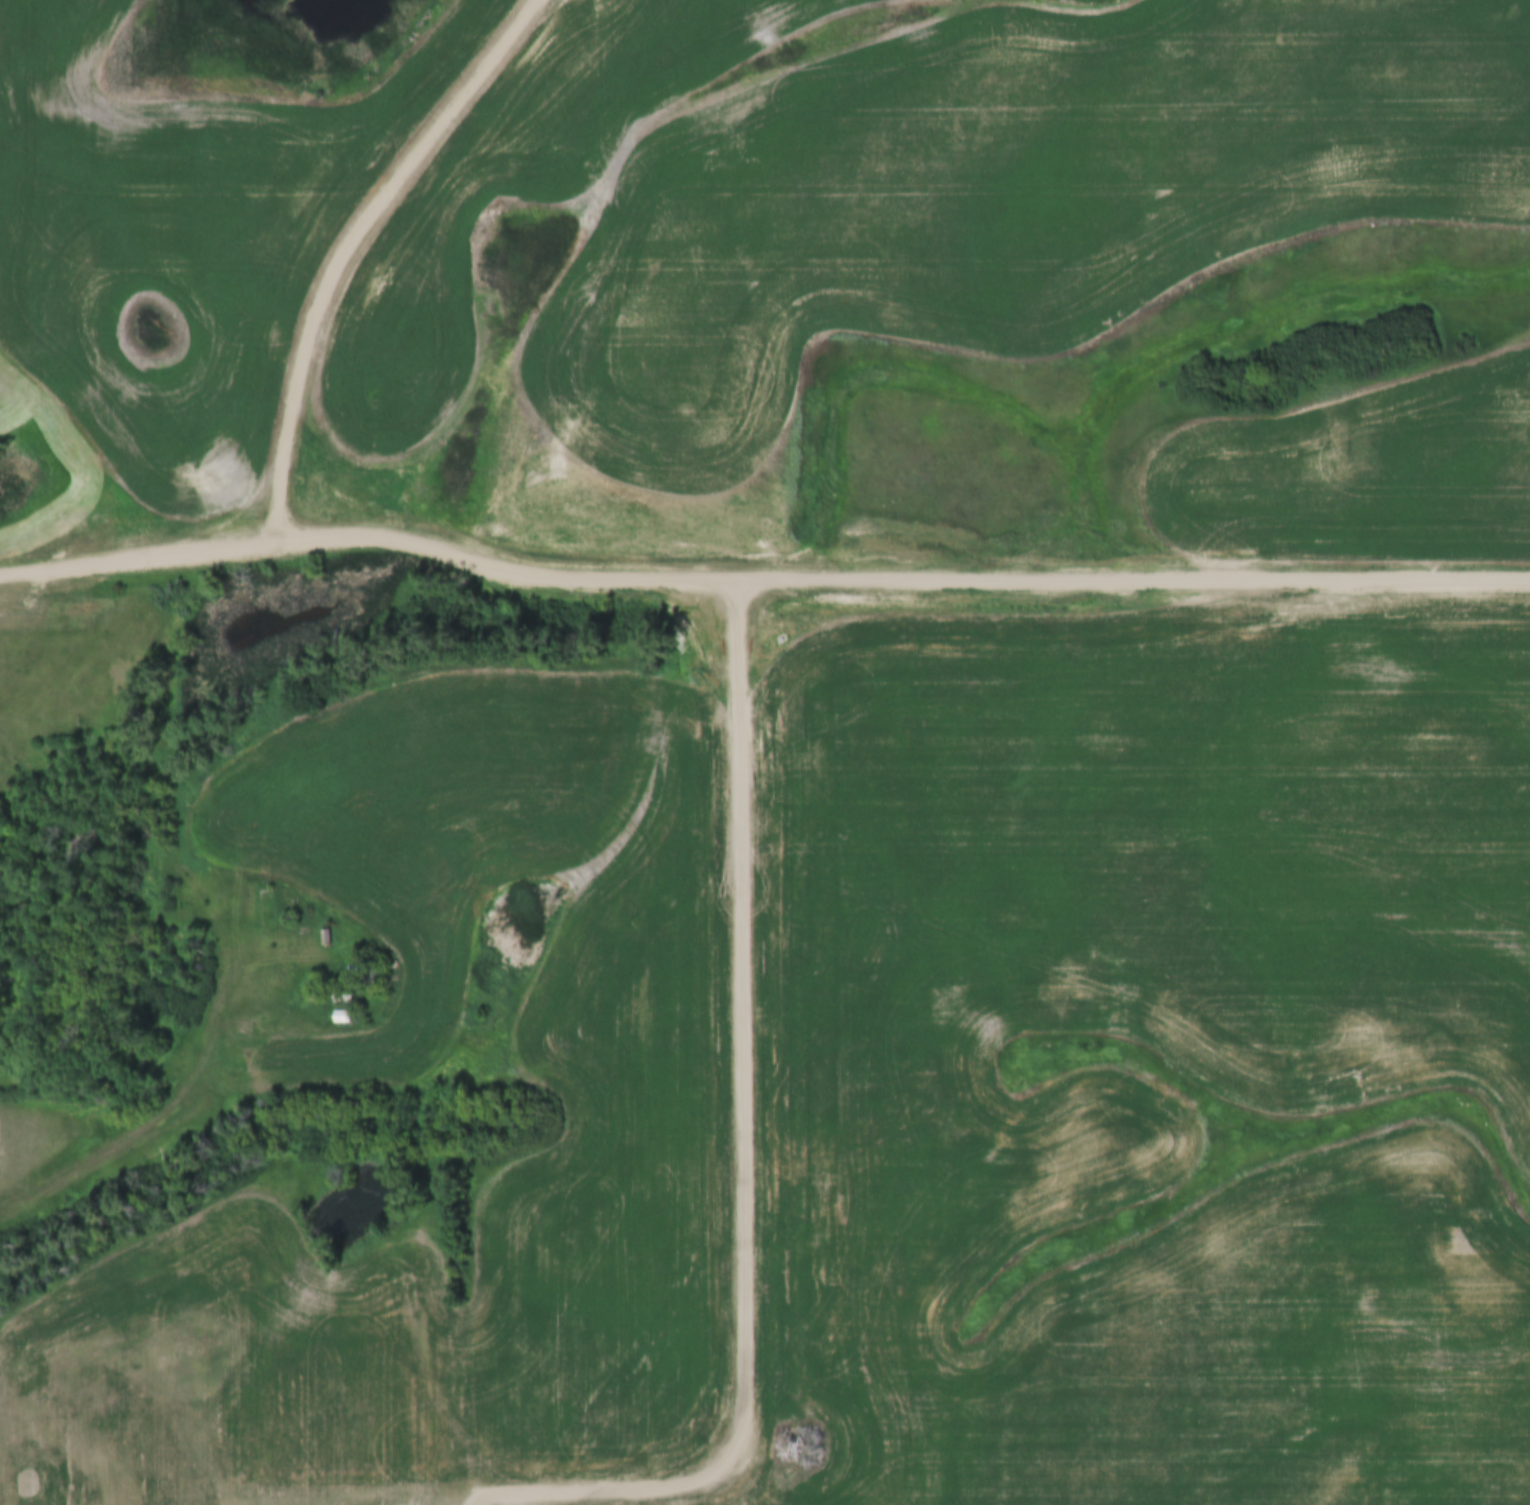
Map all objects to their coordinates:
road: (352, 256)
road: (760, 583)
road: (106, 1144)

